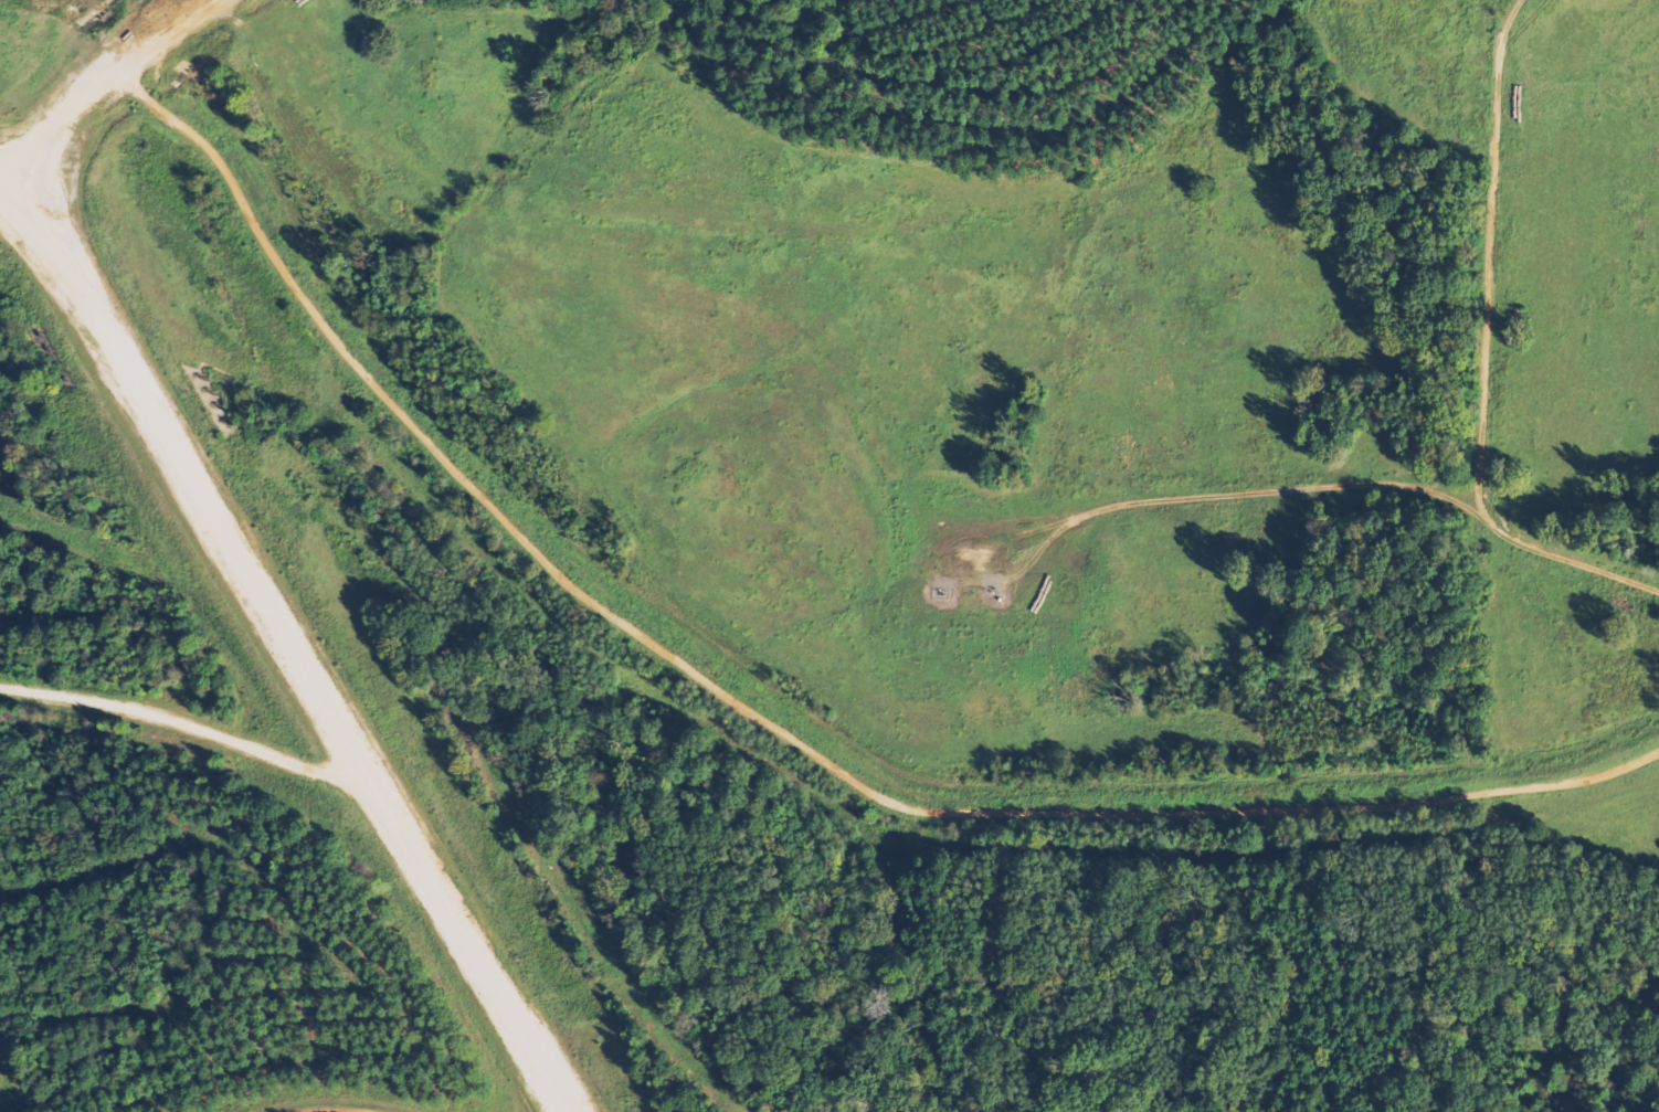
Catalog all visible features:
road: (93, 89)
road: (295, 650)

